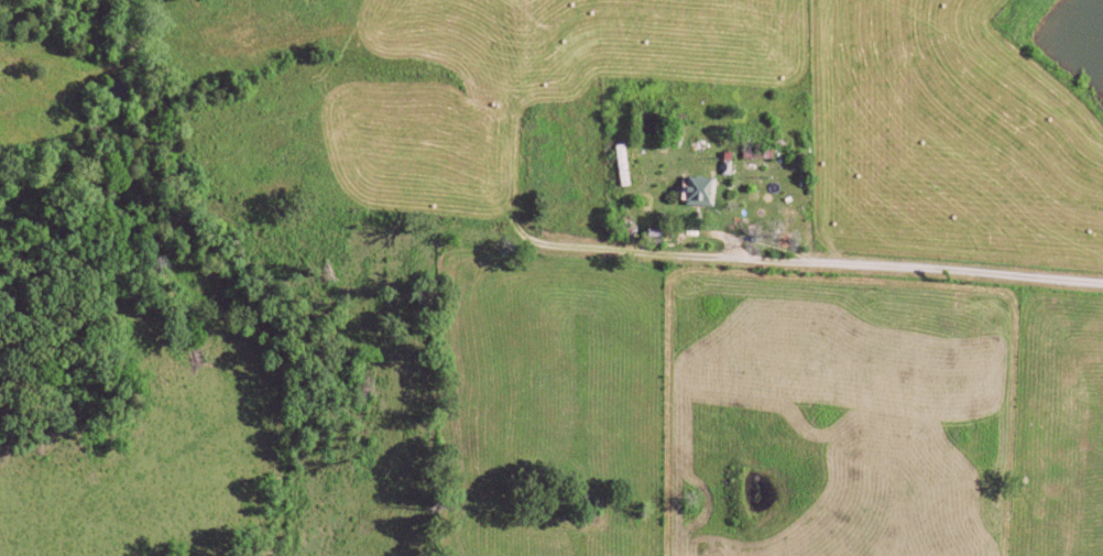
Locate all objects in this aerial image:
building: (706, 189)
road: (703, 255)
road: (955, 268)

